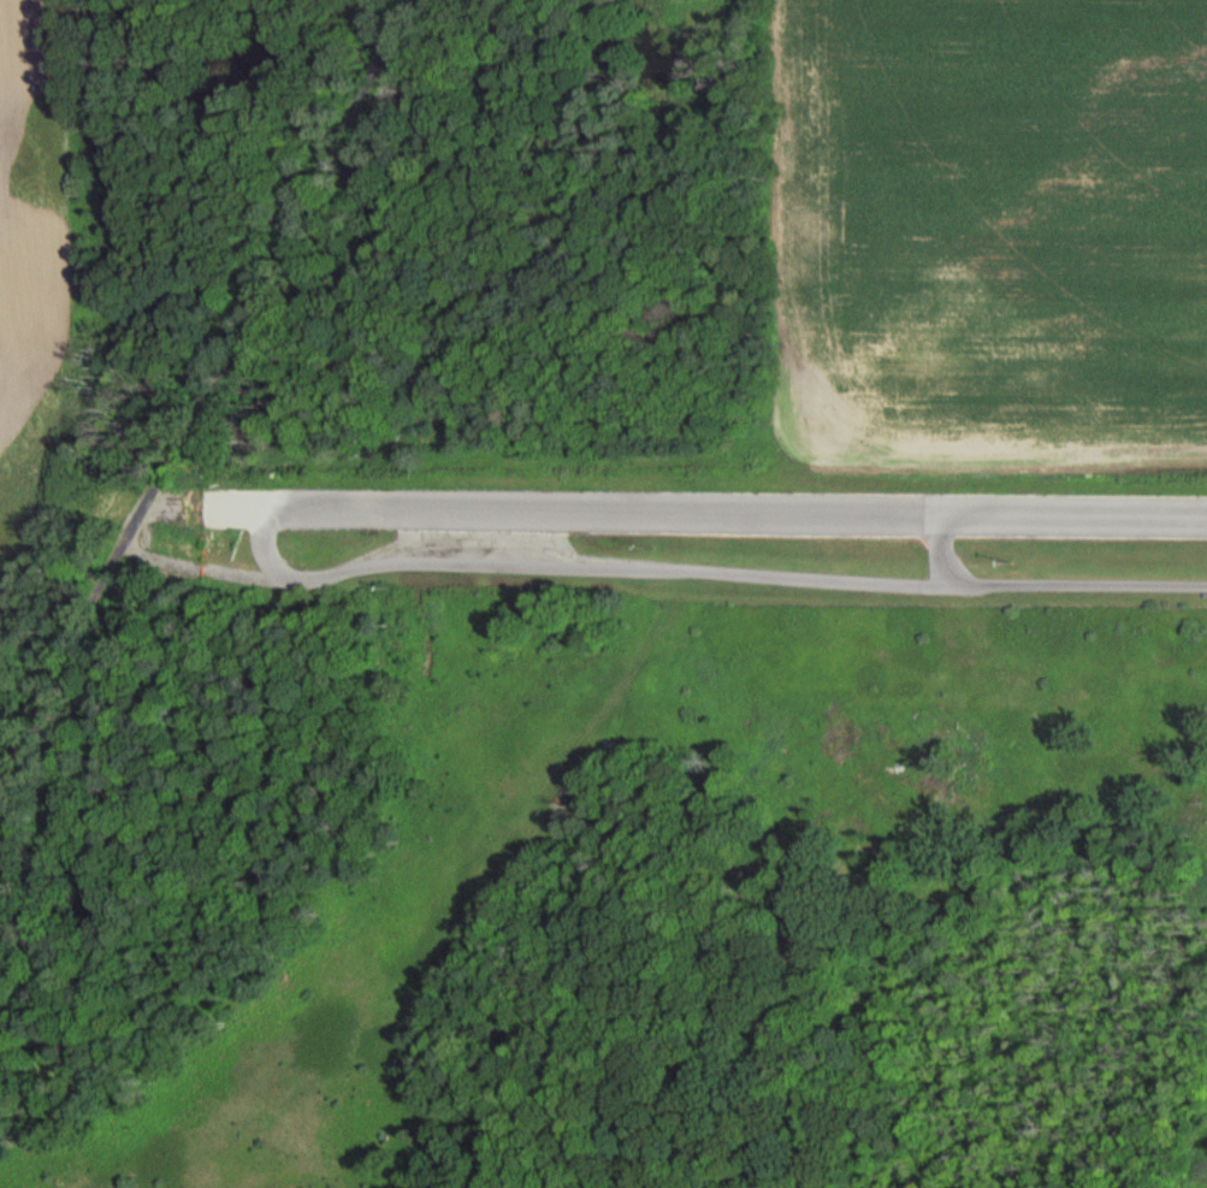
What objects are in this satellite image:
road: (200, 373)
raceway: (703, 513)
road: (940, 545)
road: (704, 572)

